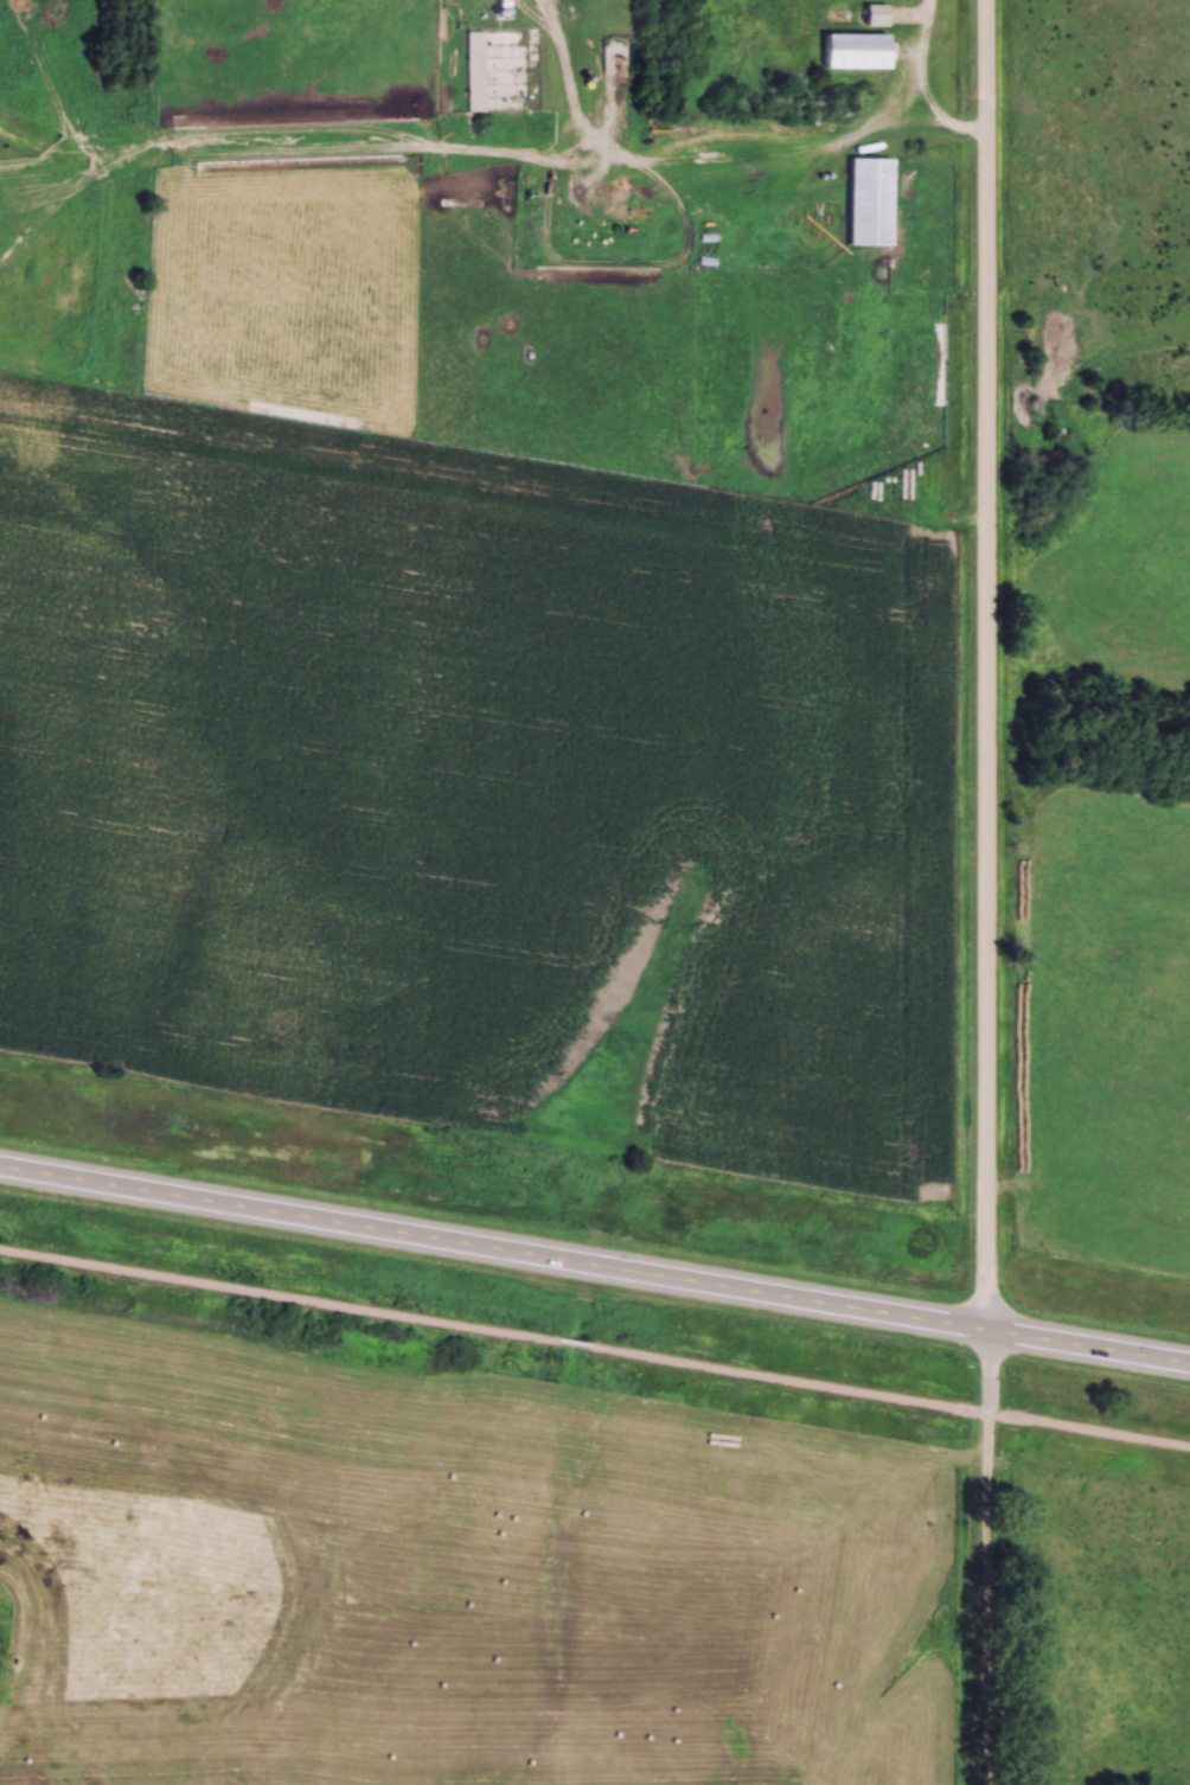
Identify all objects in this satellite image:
road: (539, 13)
building: (876, 15)
building: (851, 50)
building: (474, 72)
road: (513, 164)
building: (866, 199)
road: (986, 892)
road: (594, 1263)
road: (280, 1295)
road: (575, 1344)
road: (791, 1380)
road: (1089, 1429)

